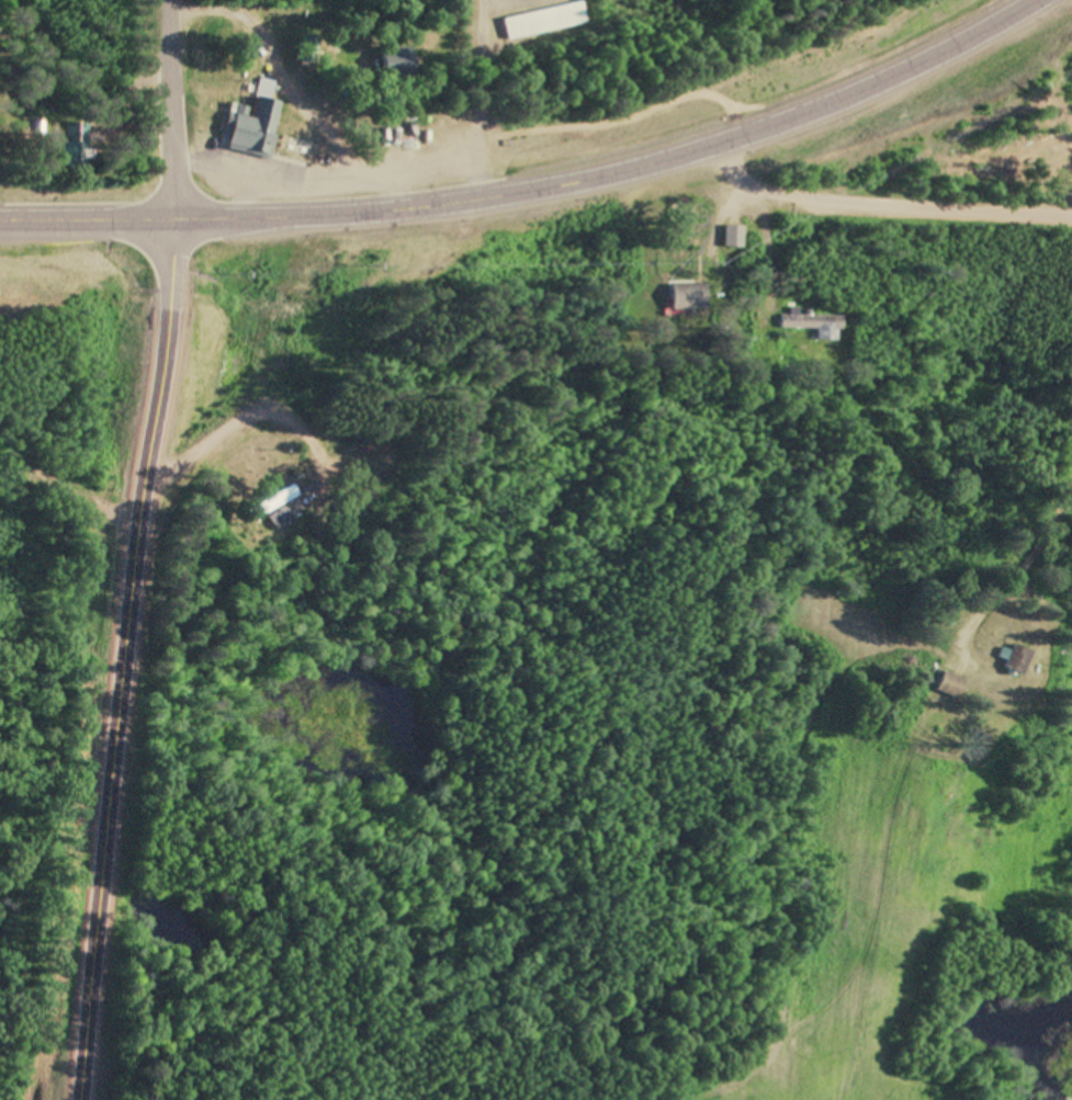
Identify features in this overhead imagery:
building: (544, 21)
building: (309, 49)
building: (398, 59)
road: (185, 106)
building: (253, 123)
building: (78, 147)
road: (535, 186)
road: (867, 209)
building: (733, 237)
building: (689, 297)
building: (815, 326)
building: (282, 509)
road: (127, 657)
building: (1020, 660)
building: (950, 685)

